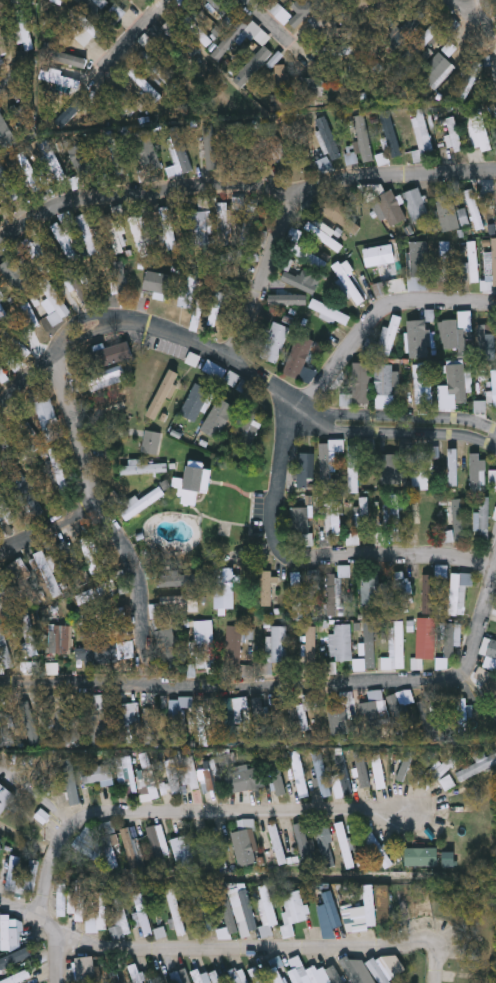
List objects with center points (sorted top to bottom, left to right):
building: (15, 1)
building: (357, 2)
building: (217, 7)
building: (117, 11)
building: (279, 12)
road: (474, 17)
building: (87, 34)
road: (282, 34)
building: (459, 36)
building: (181, 38)
road: (125, 39)
building: (421, 42)
building: (65, 58)
building: (254, 59)
building: (159, 69)
building: (437, 70)
building: (279, 74)
building: (59, 78)
road: (5, 84)
building: (144, 85)
building: (312, 86)
building: (121, 102)
building: (451, 131)
building: (480, 131)
building: (390, 133)
building: (327, 138)
building: (421, 138)
building: (237, 141)
building: (277, 142)
building: (181, 149)
building: (147, 150)
building: (114, 153)
building: (81, 159)
building: (324, 163)
road: (239, 184)
building: (495, 186)
building: (415, 204)
building: (474, 209)
building: (447, 211)
building: (340, 213)
building: (68, 218)
building: (252, 219)
building: (223, 224)
building: (168, 227)
building: (203, 227)
building: (295, 234)
building: (117, 235)
building: (141, 235)
building: (64, 241)
building: (89, 244)
building: (37, 255)
building: (472, 255)
building: (444, 257)
building: (419, 265)
building: (490, 266)
building: (385, 270)
road: (267, 271)
building: (14, 274)
building: (301, 280)
building: (121, 281)
building: (349, 283)
building: (78, 284)
building: (157, 284)
building: (380, 289)
building: (188, 290)
building: (284, 297)
building: (55, 303)
building: (330, 312)
road: (377, 313)
building: (29, 315)
road: (147, 321)
building: (453, 331)
building: (386, 337)
building: (419, 338)
building: (276, 342)
building: (485, 342)
building: (14, 343)
building: (108, 356)
building: (300, 359)
building: (216, 371)
building: (106, 375)
building: (387, 380)
building: (458, 383)
building: (359, 386)
building: (423, 389)
building: (492, 390)
building: (163, 394)
building: (196, 402)
building: (115, 405)
building: (219, 418)
building: (46, 420)
road: (399, 426)
building: (247, 430)
building: (151, 441)
building: (327, 462)
building: (144, 468)
building: (304, 469)
building: (354, 469)
building: (391, 469)
building: (422, 472)
building: (478, 472)
building: (196, 480)
building: (28, 494)
building: (140, 502)
road: (280, 507)
building: (422, 512)
building: (335, 515)
building: (394, 517)
building: (483, 518)
road: (109, 519)
building: (358, 519)
building: (301, 525)
road: (49, 526)
building: (324, 535)
building: (354, 538)
road: (417, 554)
building: (91, 555)
building: (73, 564)
building: (151, 571)
building: (48, 573)
building: (179, 578)
building: (24, 583)
building: (266, 588)
building: (223, 589)
building: (370, 590)
building: (338, 591)
building: (402, 591)
building: (459, 591)
building: (96, 593)
building: (428, 593)
building: (297, 596)
building: (178, 601)
building: (4, 602)
building: (102, 616)
road: (482, 621)
building: (28, 635)
building: (63, 639)
building: (430, 640)
building: (450, 640)
building: (341, 642)
building: (368, 643)
building: (204, 644)
building: (236, 644)
building: (278, 644)
building: (310, 644)
building: (168, 647)
building: (395, 647)
building: (489, 648)
building: (97, 653)
building: (417, 663)
building: (51, 668)
road: (236, 687)
building: (103, 701)
building: (373, 709)
building: (305, 711)
building: (460, 714)
building: (62, 717)
building: (427, 717)
building: (177, 718)
building: (332, 719)
building: (231, 722)
building: (258, 725)
building: (148, 726)
building: (202, 727)
building: (478, 764)
building: (405, 769)
building: (189, 770)
building: (378, 770)
building: (439, 772)
building: (299, 774)
building: (321, 774)
building: (129, 775)
building: (275, 775)
building: (342, 775)
building: (360, 775)
building: (146, 776)
building: (172, 776)
building: (211, 777)
building: (243, 778)
building: (70, 781)
building: (5, 798)
road: (184, 811)
building: (88, 843)
building: (246, 843)
building: (110, 844)
building: (277, 844)
building: (345, 844)
building: (159, 845)
building: (217, 847)
building: (304, 847)
building: (326, 847)
building: (184, 849)
building: (134, 852)
building: (380, 852)
building: (422, 857)
building: (14, 872)
building: (32, 875)
building: (62, 899)
building: (78, 901)
building: (371, 905)
building: (205, 909)
building: (266, 910)
building: (176, 912)
building: (294, 912)
building: (246, 913)
building: (224, 914)
building: (329, 914)
building: (98, 915)
building: (120, 916)
building: (349, 917)
building: (147, 918)
building: (7, 932)
road: (435, 934)
road: (186, 949)
building: (15, 957)
road: (57, 966)
building: (86, 970)
building: (379, 971)
building: (136, 973)
building: (238, 975)
building: (257, 975)
building: (316, 975)
building: (209, 976)
building: (178, 977)
building: (18, 978)
building: (159, 979)

